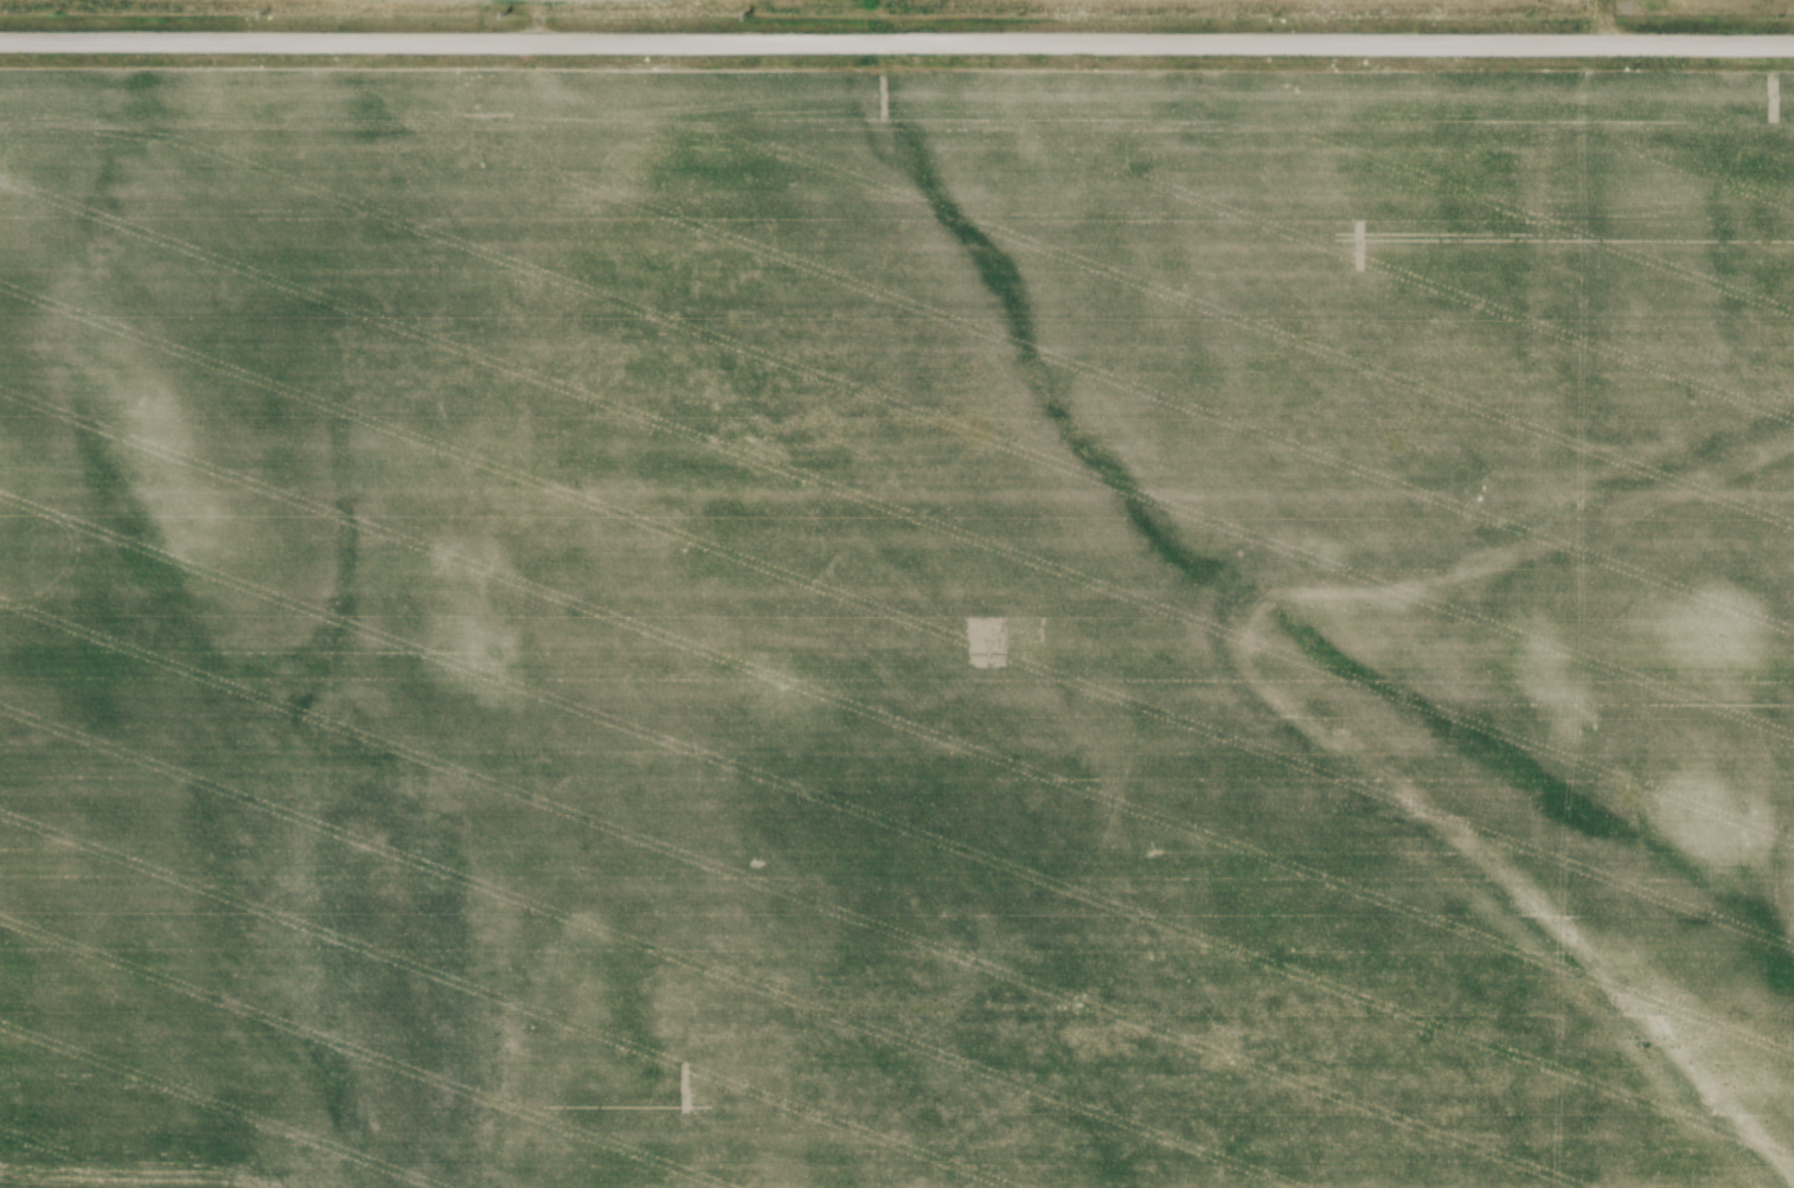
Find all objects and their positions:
road: (897, 51)

